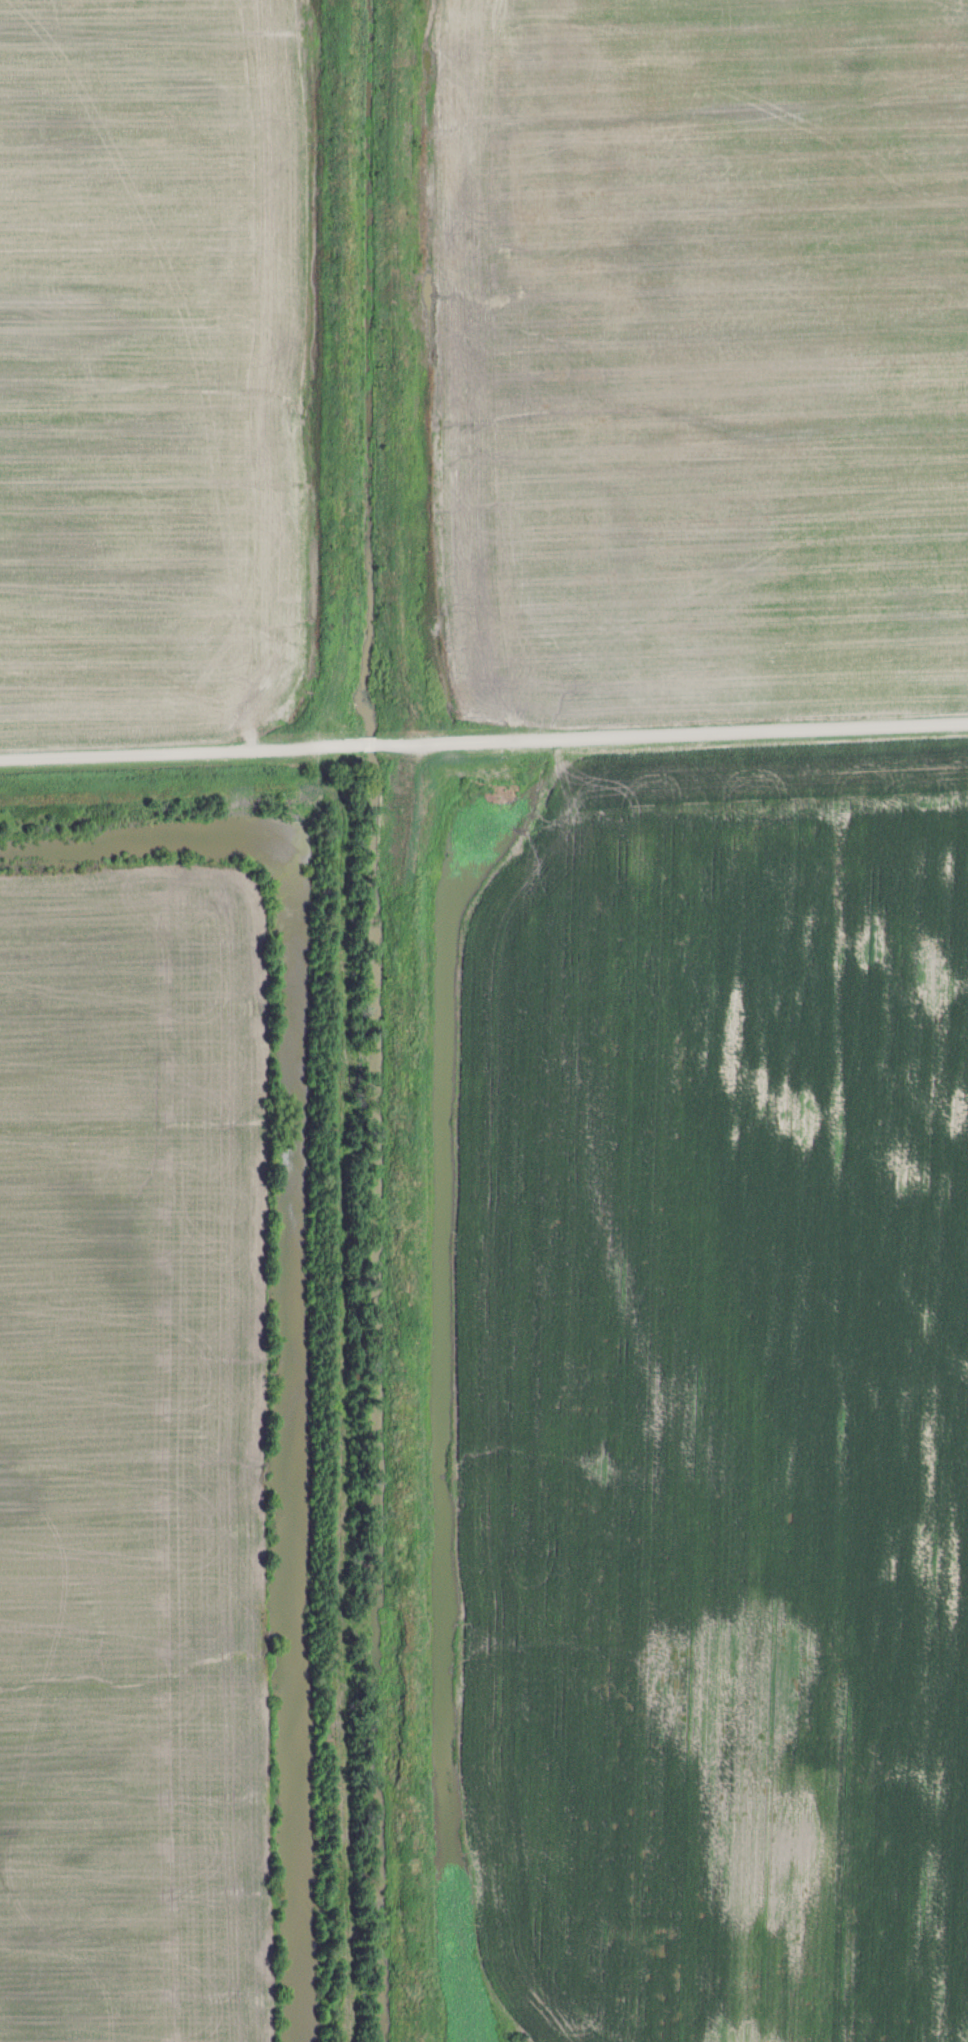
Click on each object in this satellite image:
crop: (703, 354)
crop: (151, 370)
road: (484, 737)
crop: (720, 1400)
crop: (135, 1457)

